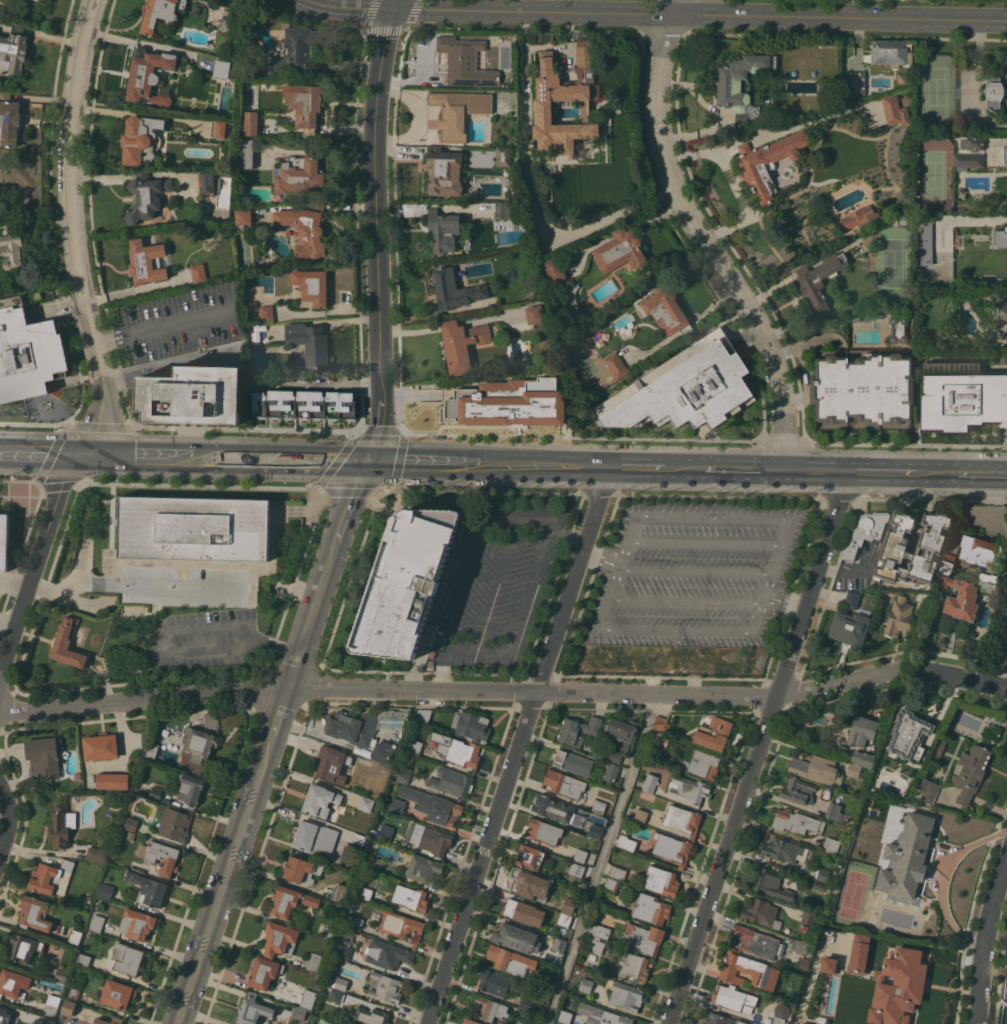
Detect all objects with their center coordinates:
building: (37, 0)
building: (196, 9)
traffic signals: (392, 9)
building: (160, 13)
road: (659, 13)
building: (227, 20)
building: (543, 36)
road: (150, 45)
building: (829, 47)
building: (13, 51)
building: (300, 51)
building: (891, 52)
building: (466, 61)
building: (807, 65)
building: (224, 68)
building: (148, 76)
building: (855, 82)
building: (729, 85)
building: (994, 90)
building: (563, 92)
building: (805, 103)
building: (304, 105)
building: (895, 110)
building: (458, 111)
building: (9, 119)
building: (251, 123)
building: (218, 128)
building: (141, 139)
road: (743, 139)
building: (971, 143)
building: (632, 147)
building: (1005, 148)
building: (246, 153)
building: (1006, 154)
building: (503, 156)
building: (967, 160)
building: (767, 163)
building: (444, 171)
building: (300, 173)
building: (207, 183)
road: (731, 183)
road: (75, 190)
road: (374, 191)
road: (530, 192)
building: (146, 196)
building: (503, 210)
building: (861, 217)
building: (243, 219)
building: (904, 219)
road: (986, 220)
building: (305, 230)
building: (444, 230)
building: (1001, 237)
road: (703, 238)
building: (12, 248)
building: (620, 251)
building: (923, 251)
building: (146, 261)
building: (555, 271)
building: (199, 273)
building: (820, 279)
building: (312, 285)
building: (455, 289)
road: (768, 290)
building: (37, 294)
building: (251, 305)
building: (664, 310)
building: (999, 311)
building: (267, 313)
building: (535, 314)
parking lot: (174, 324)
road: (163, 325)
building: (899, 329)
building: (309, 344)
building: (461, 344)
building: (29, 355)
road: (166, 362)
building: (616, 365)
road: (325, 384)
building: (684, 388)
building: (864, 388)
road: (382, 391)
building: (192, 395)
building: (961, 396)
building: (504, 402)
road: (104, 418)
road: (379, 431)
building: (540, 431)
road: (36, 454)
traffic signals: (72, 455)
road: (87, 456)
traffic signals: (102, 457)
road: (139, 458)
road: (194, 459)
road: (289, 462)
traffic signals: (366, 464)
road: (436, 465)
road: (558, 468)
road: (638, 469)
road: (683, 470)
road: (744, 470)
road: (816, 471)
road: (880, 472)
road: (961, 473)
road: (348, 505)
road: (715, 518)
road: (484, 524)
building: (194, 528)
building: (865, 531)
building: (4, 541)
road: (707, 542)
building: (894, 548)
building: (981, 551)
road: (603, 558)
building: (948, 564)
road: (36, 570)
parking lot: (696, 571)
road: (698, 571)
road: (619, 572)
parking lot: (500, 575)
road: (774, 576)
building: (987, 577)
road: (134, 583)
building: (404, 585)
road: (531, 585)
building: (993, 587)
building: (887, 595)
road: (790, 596)
building: (957, 598)
building: (851, 599)
road: (688, 601)
road: (309, 617)
building: (899, 617)
building: (849, 627)
road: (579, 629)
road: (175, 630)
road: (678, 630)
building: (68, 644)
building: (661, 656)
building: (724, 658)
building: (616, 659)
road: (440, 663)
building: (676, 663)
road: (2, 672)
road: (964, 677)
road: (448, 689)
road: (278, 712)
building: (423, 716)
building: (211, 719)
building: (661, 723)
building: (473, 726)
building: (353, 727)
building: (578, 730)
building: (623, 731)
building: (861, 731)
building: (713, 733)
building: (907, 735)
building: (661, 739)
building: (414, 746)
road: (520, 746)
building: (100, 747)
building: (196, 748)
road: (760, 748)
building: (937, 748)
building: (841, 749)
building: (152, 750)
building: (384, 752)
building: (460, 752)
building: (44, 755)
building: (615, 756)
building: (863, 758)
building: (573, 762)
building: (332, 763)
building: (700, 763)
building: (915, 767)
building: (816, 769)
building: (854, 770)
building: (612, 771)
building: (970, 772)
building: (404, 774)
building: (113, 781)
building: (452, 782)
building: (650, 782)
building: (564, 784)
building: (189, 787)
building: (688, 789)
building: (798, 790)
building: (927, 790)
building: (155, 793)
building: (320, 800)
building: (365, 803)
building: (432, 805)
building: (397, 806)
building: (599, 806)
building: (553, 808)
building: (834, 812)
building: (641, 815)
building: (682, 820)
road: (7, 821)
building: (796, 822)
building: (131, 823)
building: (176, 824)
building: (62, 826)
building: (545, 831)
building: (372, 832)
building: (386, 832)
building: (595, 832)
building: (315, 837)
building: (429, 838)
building: (359, 840)
building: (626, 842)
building: (864, 844)
building: (831, 845)
building: (671, 848)
road: (43, 849)
building: (786, 850)
building: (97, 853)
building: (160, 856)
building: (582, 856)
building: (530, 857)
building: (906, 857)
road: (603, 858)
building: (375, 864)
building: (301, 869)
building: (423, 869)
building: (577, 869)
building: (618, 872)
building: (823, 874)
building: (51, 877)
road: (223, 880)
building: (662, 880)
building: (531, 884)
building: (770, 884)
building: (611, 885)
building: (819, 886)
building: (148, 888)
building: (106, 890)
building: (341, 893)
building: (365, 893)
building: (411, 897)
building: (872, 899)
building: (291, 900)
building: (570, 907)
building: (651, 908)
building: (517, 910)
building: (36, 913)
building: (761, 913)
building: (555, 915)
building: (375, 916)
building: (808, 917)
building: (873, 920)
building: (565, 921)
building: (96, 923)
building: (137, 923)
building: (355, 923)
building: (400, 925)
building: (329, 930)
building: (598, 930)
building: (825, 933)
building: (644, 937)
building: (74, 938)
building: (517, 938)
building: (280, 939)
building: (756, 942)
road: (987, 943)
building: (344, 945)
building: (559, 945)
building: (597, 945)
building: (23, 947)
building: (802, 947)
building: (733, 949)
building: (858, 953)
building: (387, 954)
building: (83, 959)
building: (125, 959)
building: (506, 959)
building: (314, 962)
building: (826, 964)
building: (633, 965)
building: (803, 965)
building: (748, 971)
building: (264, 972)
building: (61, 974)
building: (313, 975)
building: (544, 981)
building: (338, 982)
building: (494, 982)
building: (13, 983)
building: (585, 985)
building: (900, 986)
building: (387, 987)
building: (72, 993)
building: (118, 993)
building: (332, 994)
building: (626, 996)
building: (734, 998)
building: (308, 999)
building: (51, 1005)
building: (68, 1006)
building: (529, 1007)
building: (490, 1008)
building: (252, 1009)
building: (298, 1012)
building: (5, 1015)
building: (369, 1016)
building: (574, 1017)
building: (614, 1018)
building: (721, 1019)
building: (47, 1020)
building: (100, 1020)
building: (777, 1020)
building: (474, 1022)
building: (526, 1023)
building: (808, 1023)

